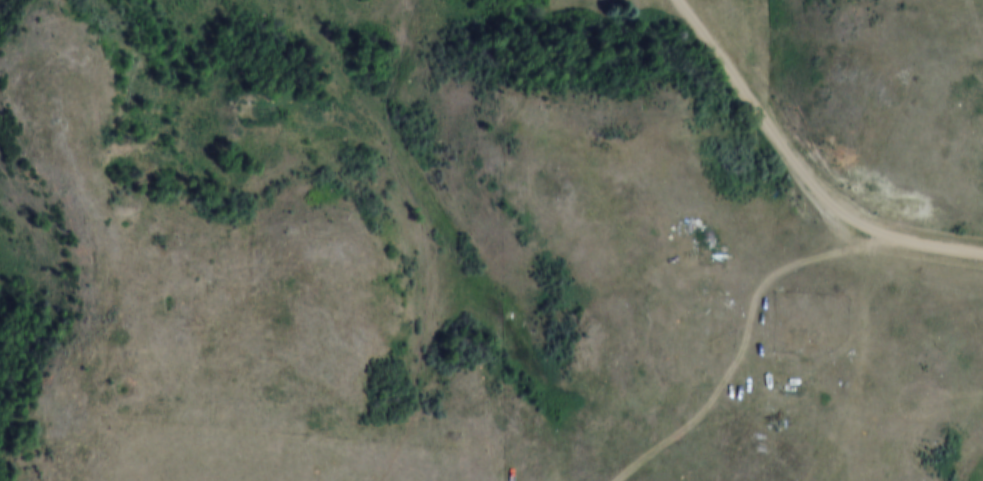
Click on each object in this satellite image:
road: (800, 167)
road: (747, 353)

